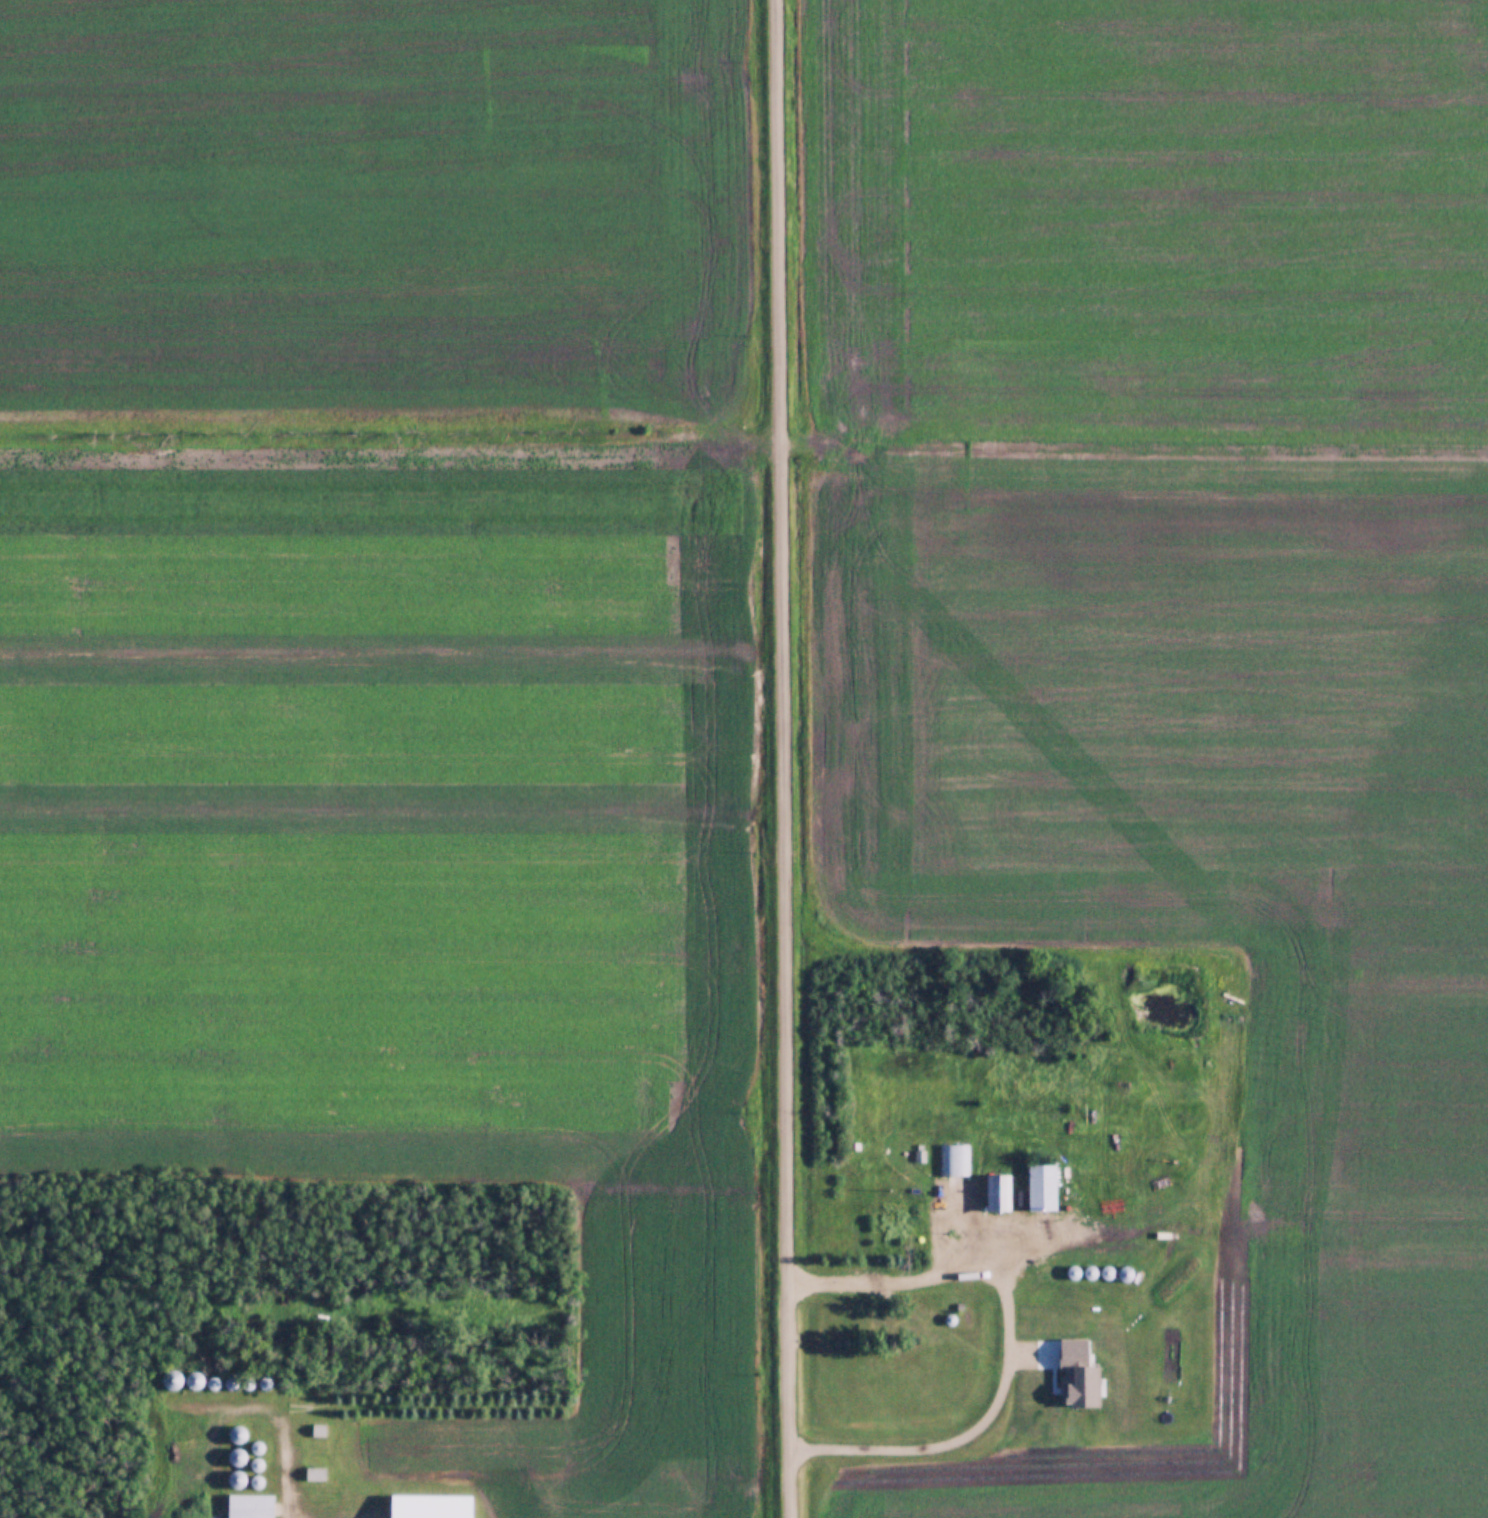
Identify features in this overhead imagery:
crop: (370, 218)
crop: (1187, 636)
road: (782, 759)
crop: (407, 848)
road: (1010, 1335)
road: (250, 1401)
building: (313, 1472)
building: (251, 1505)
building: (432, 1506)

